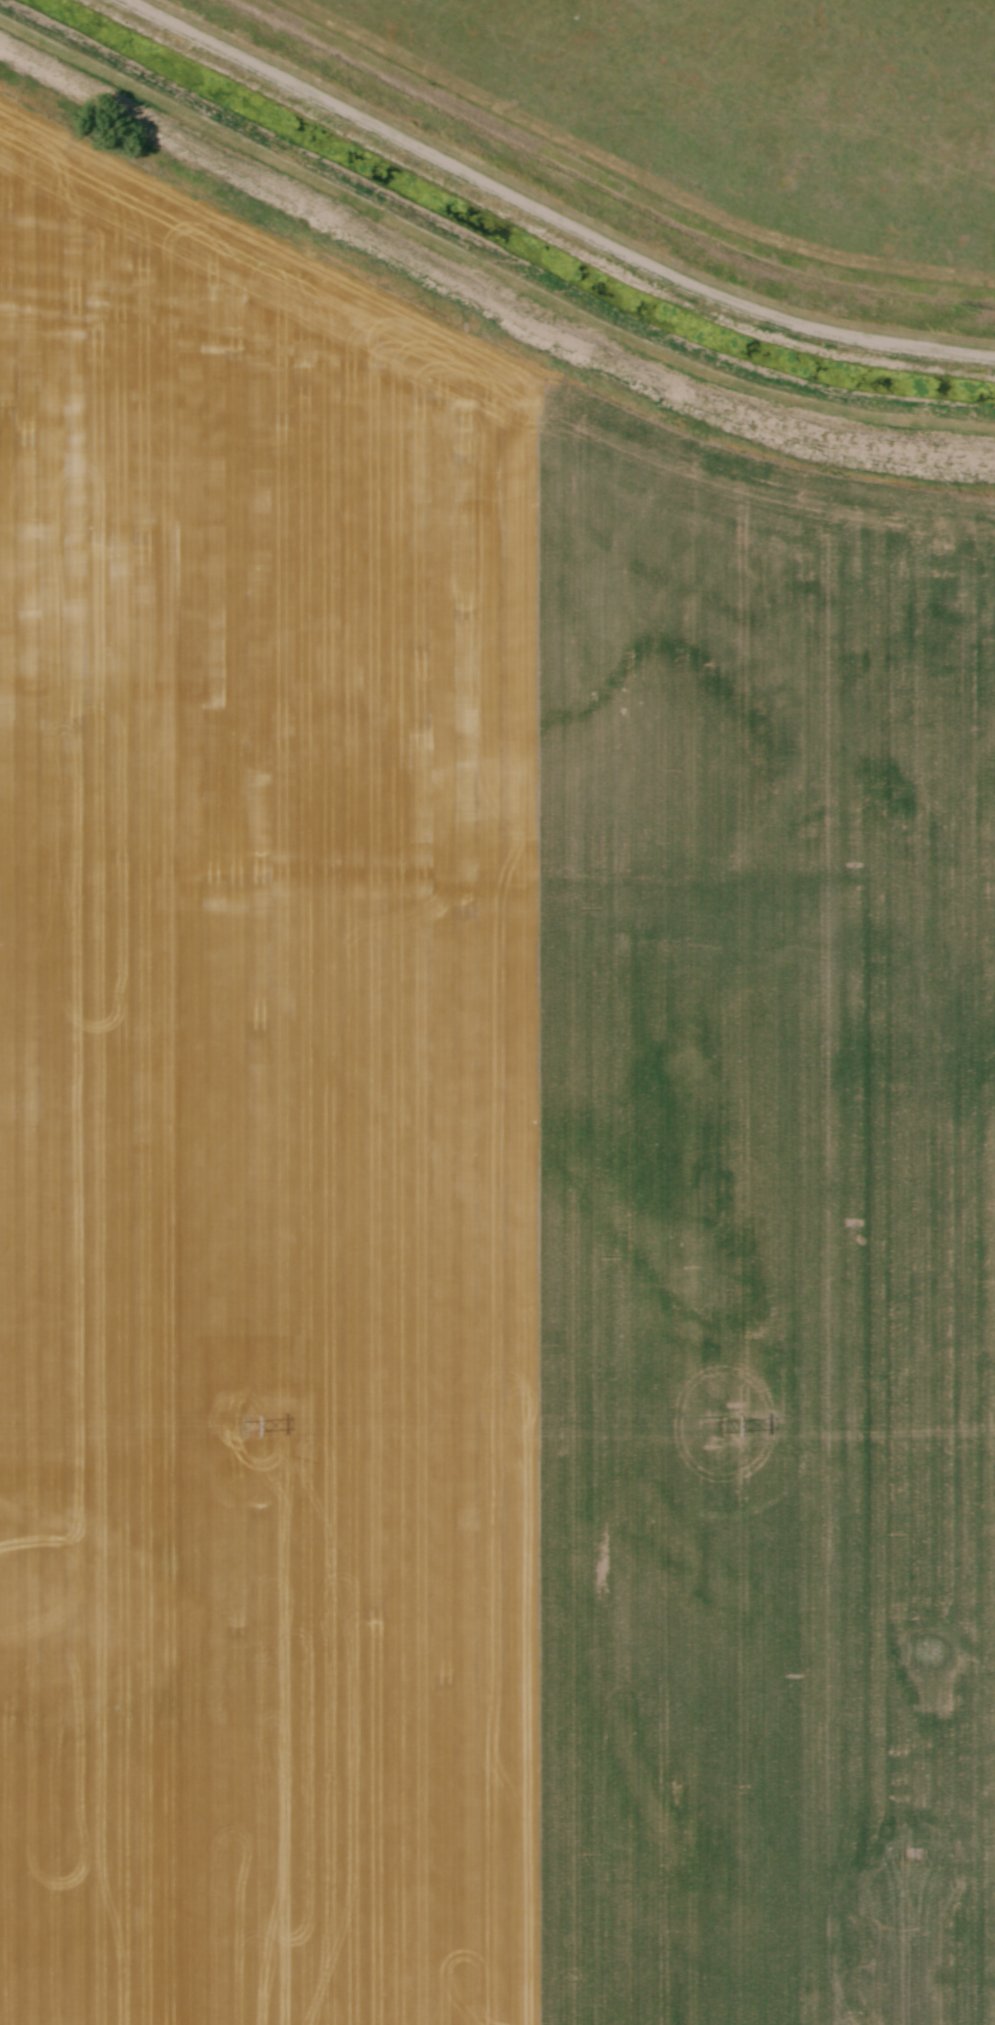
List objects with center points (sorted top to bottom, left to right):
road: (545, 216)
power tower: (245, 1427)
power tower: (720, 1430)

